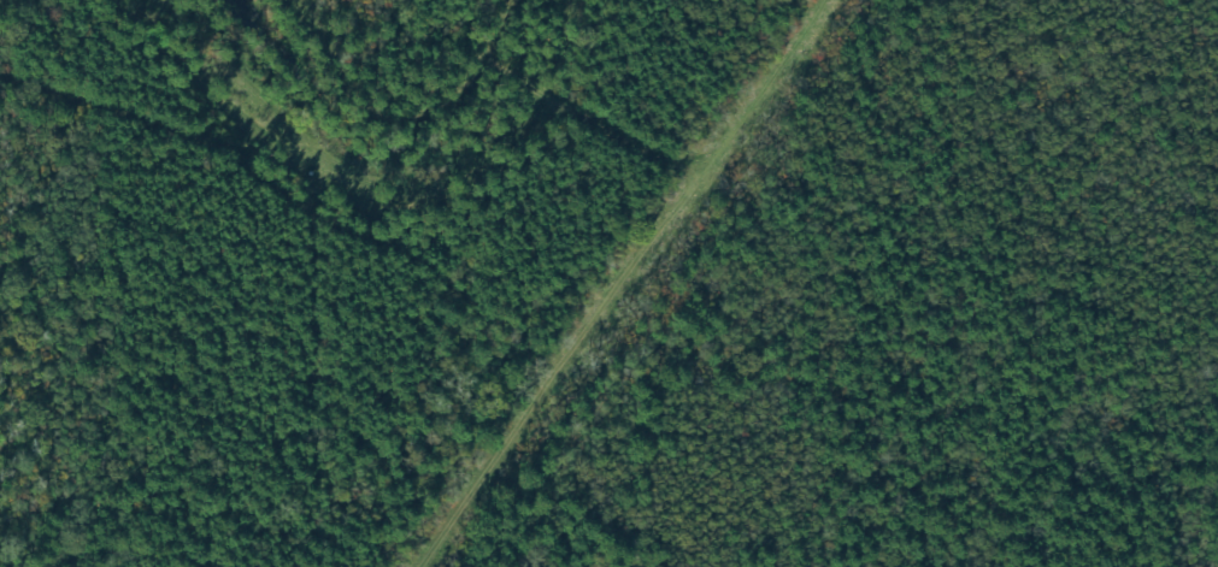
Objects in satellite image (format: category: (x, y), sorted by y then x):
road: (624, 282)

